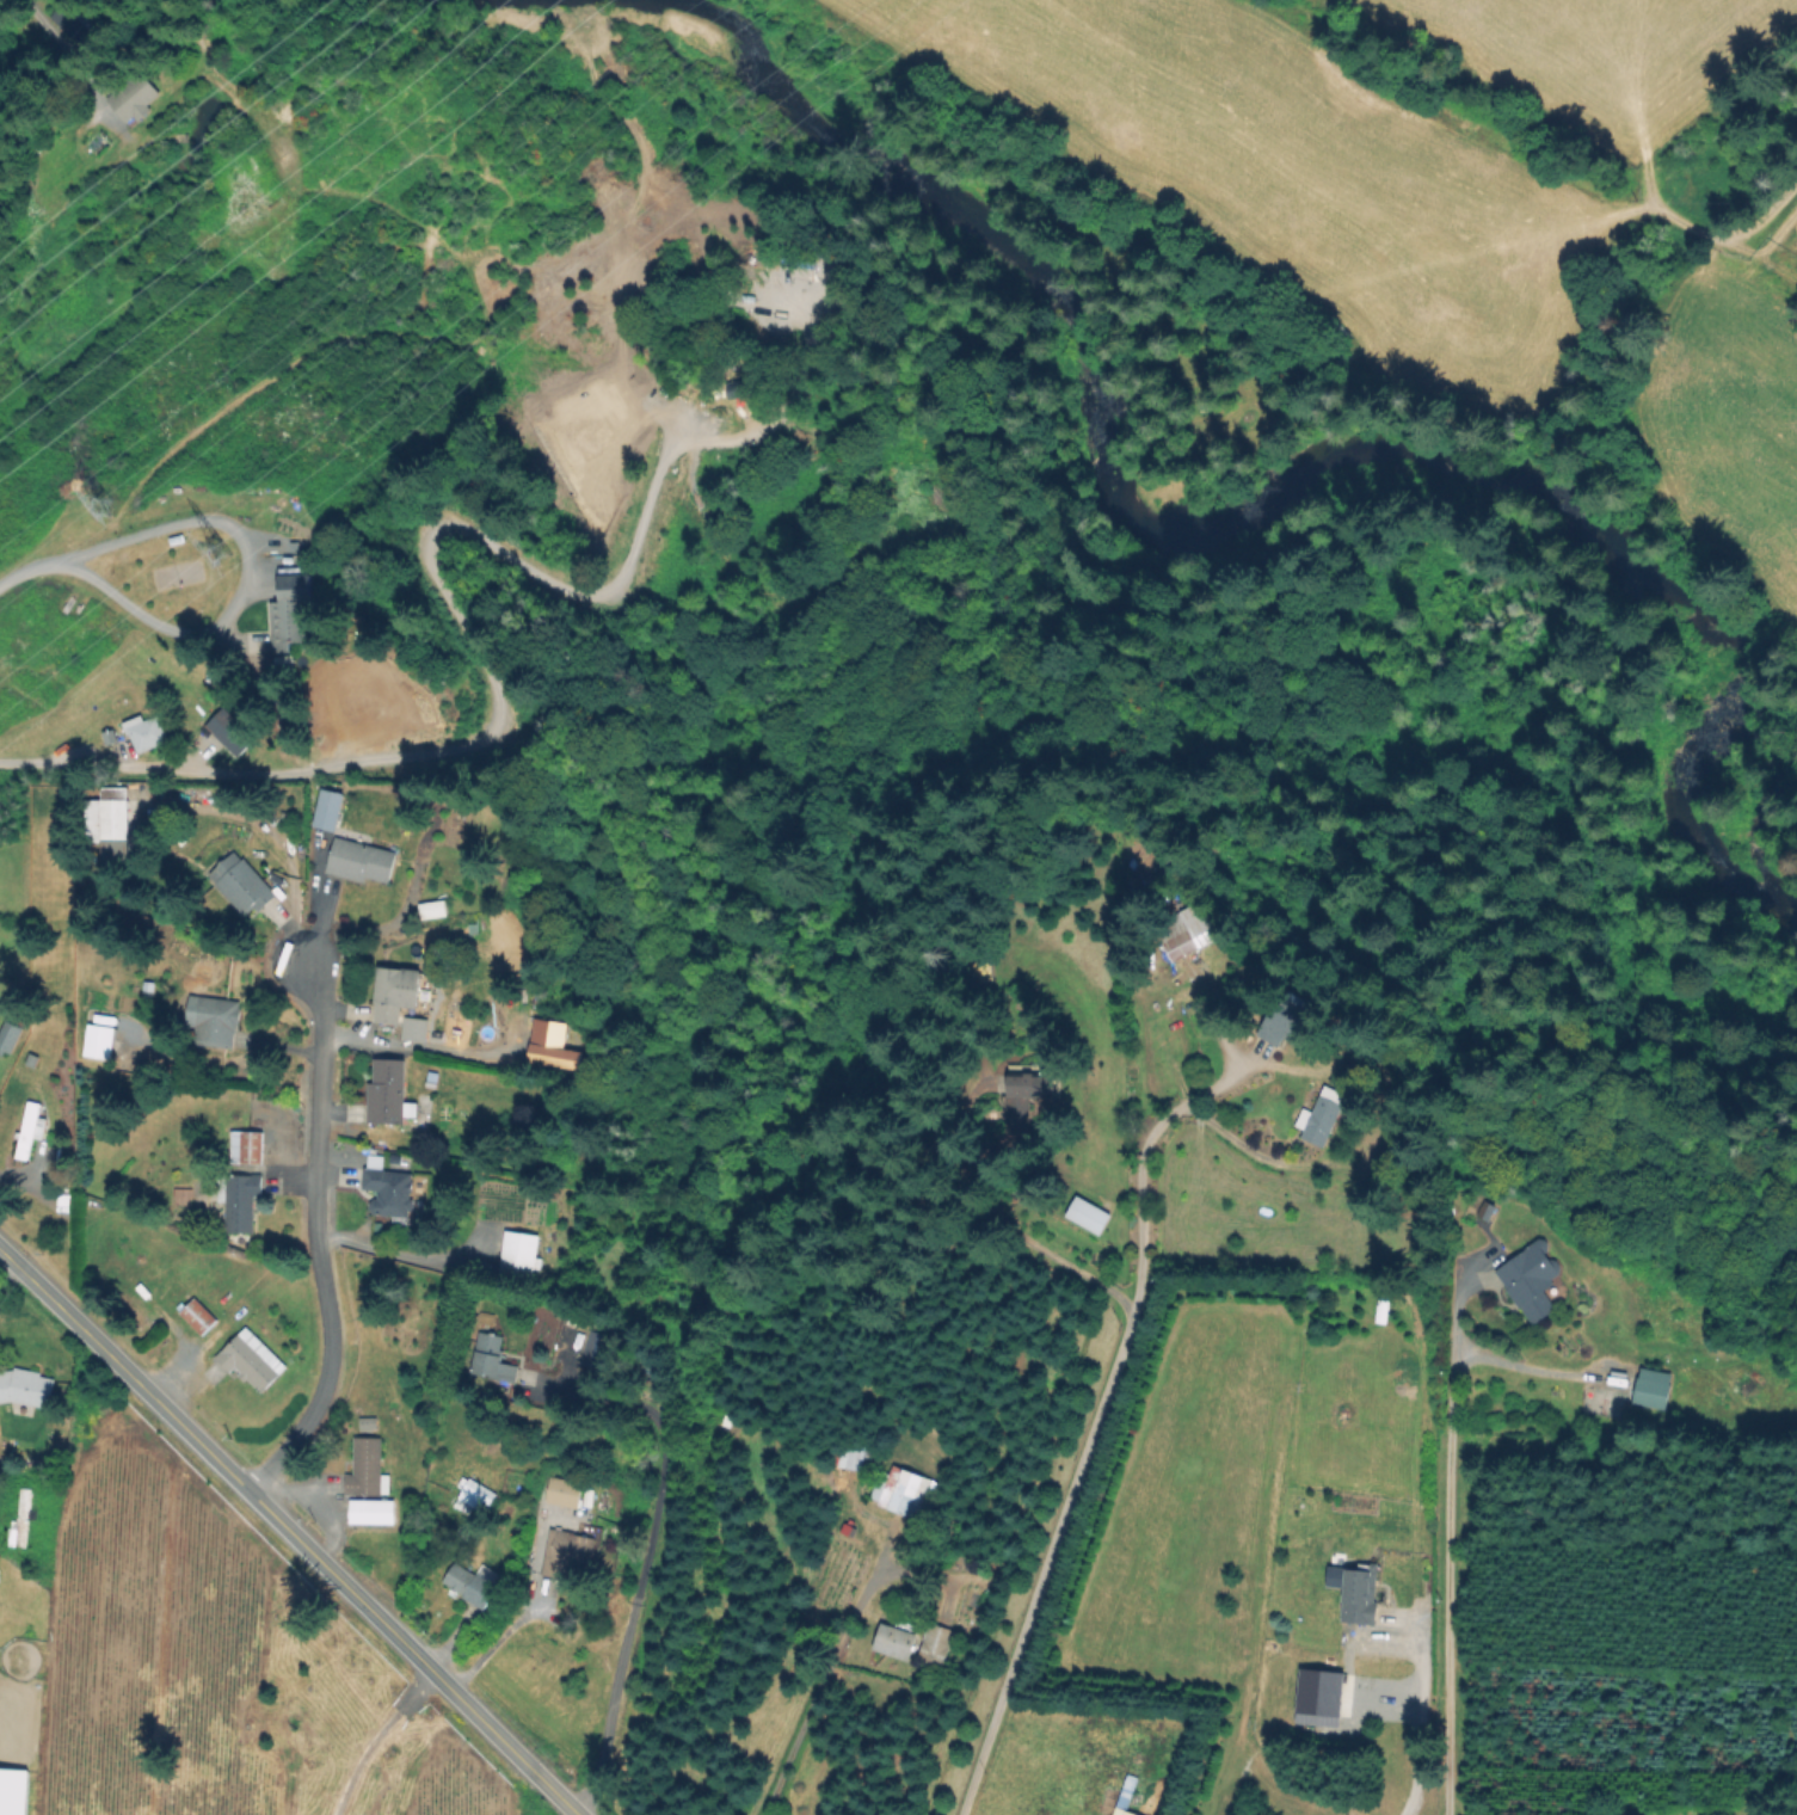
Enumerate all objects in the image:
building: (72, 25)
road: (67, 74)
building: (135, 97)
building: (419, 104)
power tower: (100, 502)
road: (210, 515)
power tower: (228, 553)
road: (91, 580)
building: (291, 611)
building: (228, 731)
building: (146, 732)
building: (1693, 745)
road: (84, 768)
building: (330, 806)
building: (115, 814)
road: (273, 833)
building: (361, 860)
building: (242, 885)
building: (432, 906)
building: (1194, 928)
building: (492, 942)
building: (396, 986)
building: (217, 1022)
building: (1288, 1022)
building: (417, 1029)
building: (11, 1034)
building: (100, 1041)
road: (411, 1046)
building: (548, 1046)
building: (32, 1059)
building: (432, 1075)
building: (389, 1094)
building: (1027, 1095)
building: (1319, 1120)
building: (31, 1127)
road: (1146, 1139)
building: (247, 1145)
building: (388, 1187)
building: (239, 1201)
building: (1488, 1211)
building: (1084, 1217)
road: (314, 1236)
road: (390, 1254)
building: (519, 1256)
road: (5, 1275)
building: (1531, 1279)
building: (197, 1315)
building: (593, 1351)
building: (492, 1358)
building: (252, 1360)
road: (1526, 1366)
building: (26, 1385)
building: (1654, 1389)
building: (368, 1422)
building: (860, 1459)
building: (849, 1460)
building: (365, 1469)
building: (561, 1489)
building: (905, 1491)
building: (474, 1497)
building: (370, 1511)
building: (20, 1520)
road: (290, 1532)
road: (1450, 1544)
building: (567, 1552)
road: (641, 1559)
road: (1040, 1576)
building: (472, 1582)
building: (1360, 1593)
road: (500, 1639)
building: (894, 1642)
building: (935, 1644)
road: (823, 1673)
road: (1410, 1714)
building: (13, 1791)
building: (1124, 1811)

